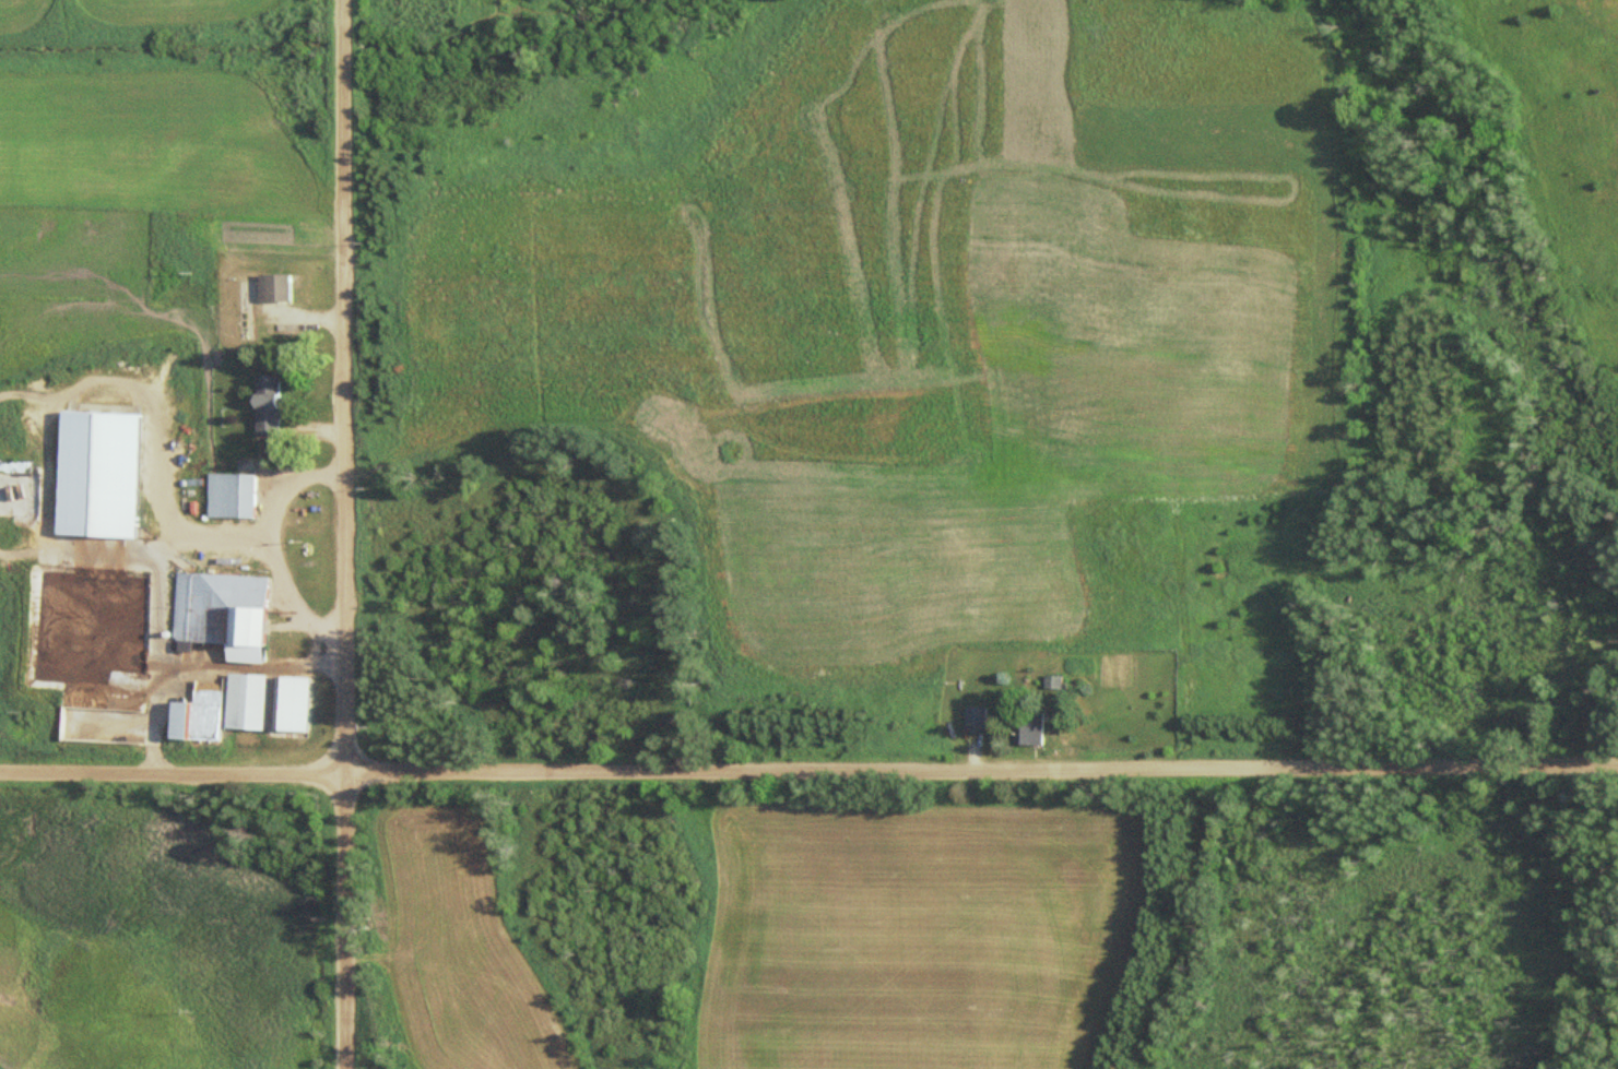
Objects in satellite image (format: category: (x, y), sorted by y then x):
building: (284, 286)
building: (251, 310)
road: (344, 385)
building: (276, 405)
building: (237, 496)
building: (232, 613)
building: (1060, 681)
building: (253, 701)
building: (299, 703)
building: (980, 717)
building: (1041, 726)
road: (808, 769)
road: (344, 920)

